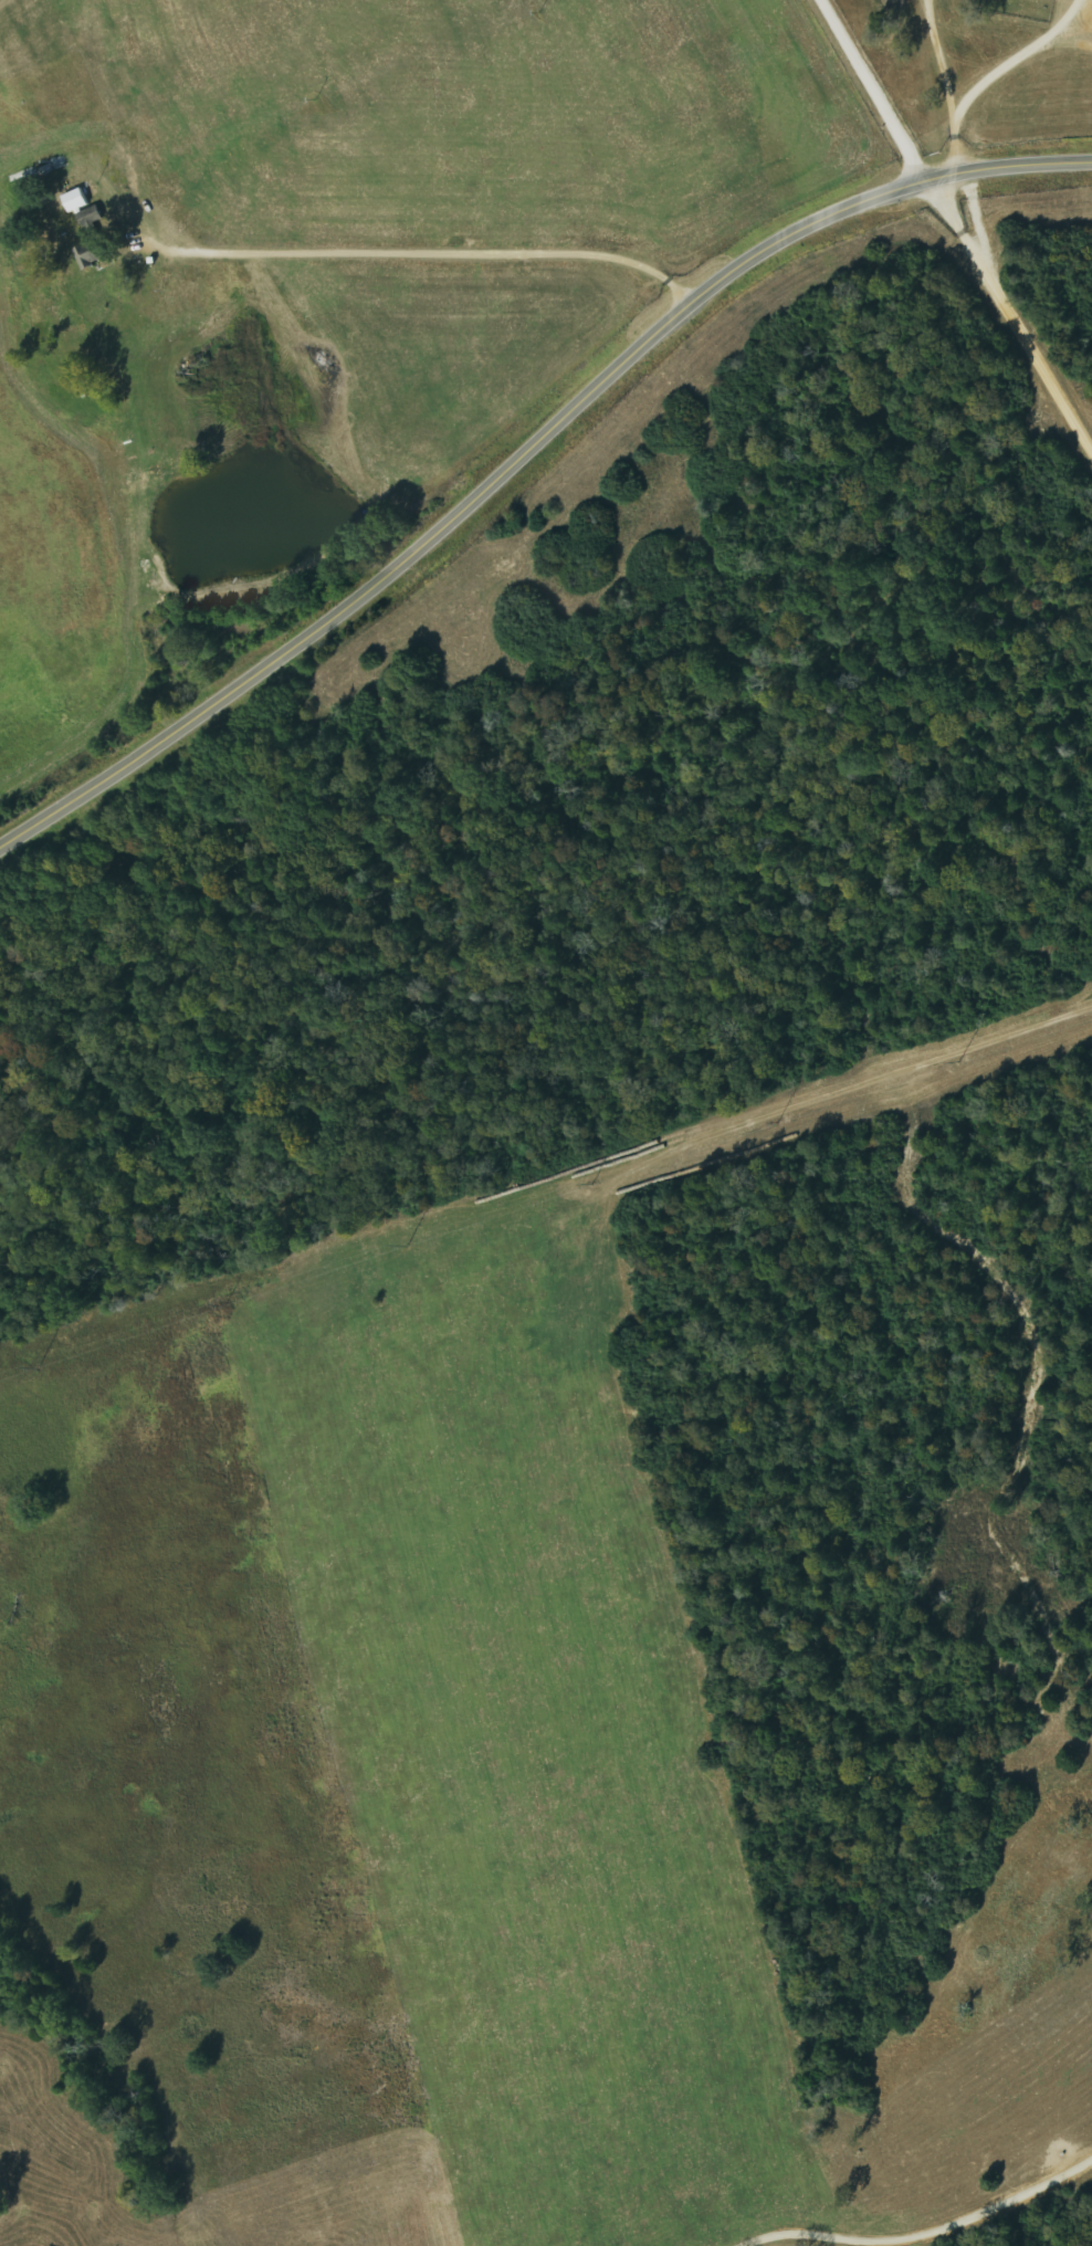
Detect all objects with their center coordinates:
road: (862, 94)
building: (77, 201)
building: (94, 222)
road: (441, 254)
building: (84, 259)
road: (1007, 321)
road: (525, 450)
road: (899, 2217)

